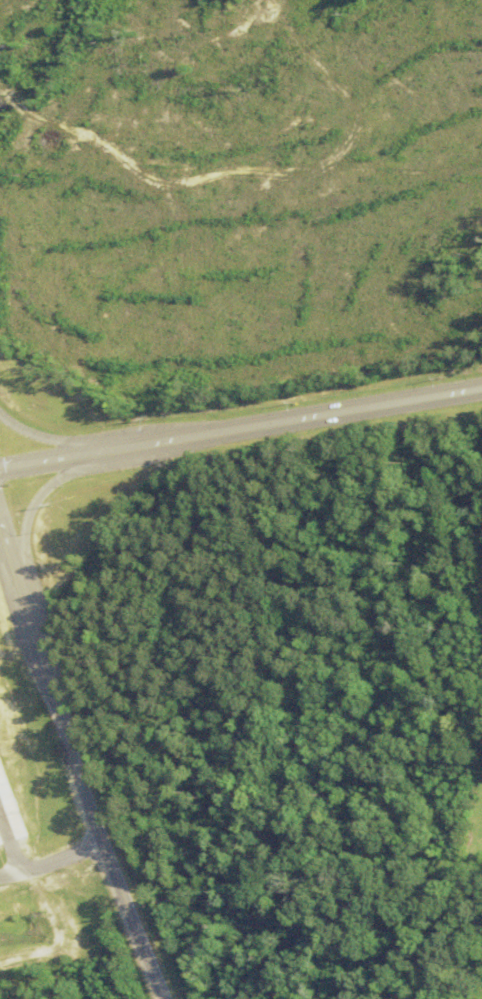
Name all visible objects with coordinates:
road: (240, 430)
road: (48, 439)
road: (39, 503)
road: (12, 574)
road: (75, 756)
road: (34, 869)

